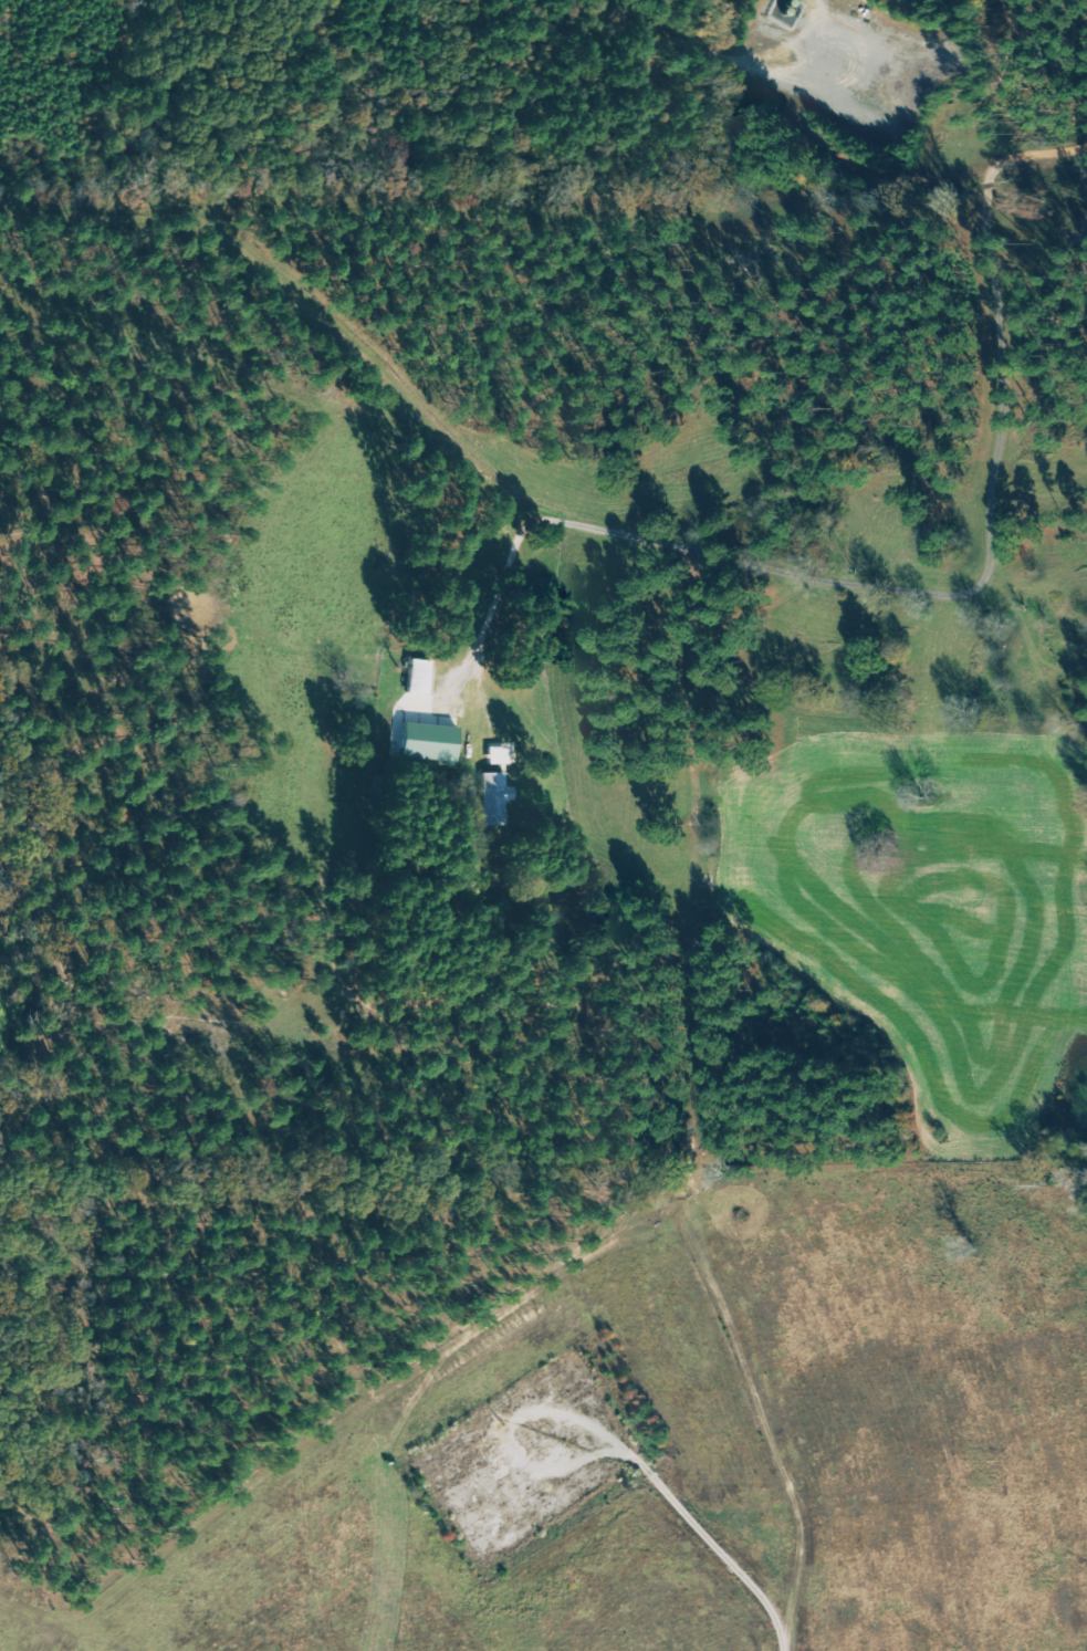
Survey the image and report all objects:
road: (113, 205)
road: (767, 566)
road: (492, 615)
building: (418, 675)
building: (502, 753)
building: (494, 797)

